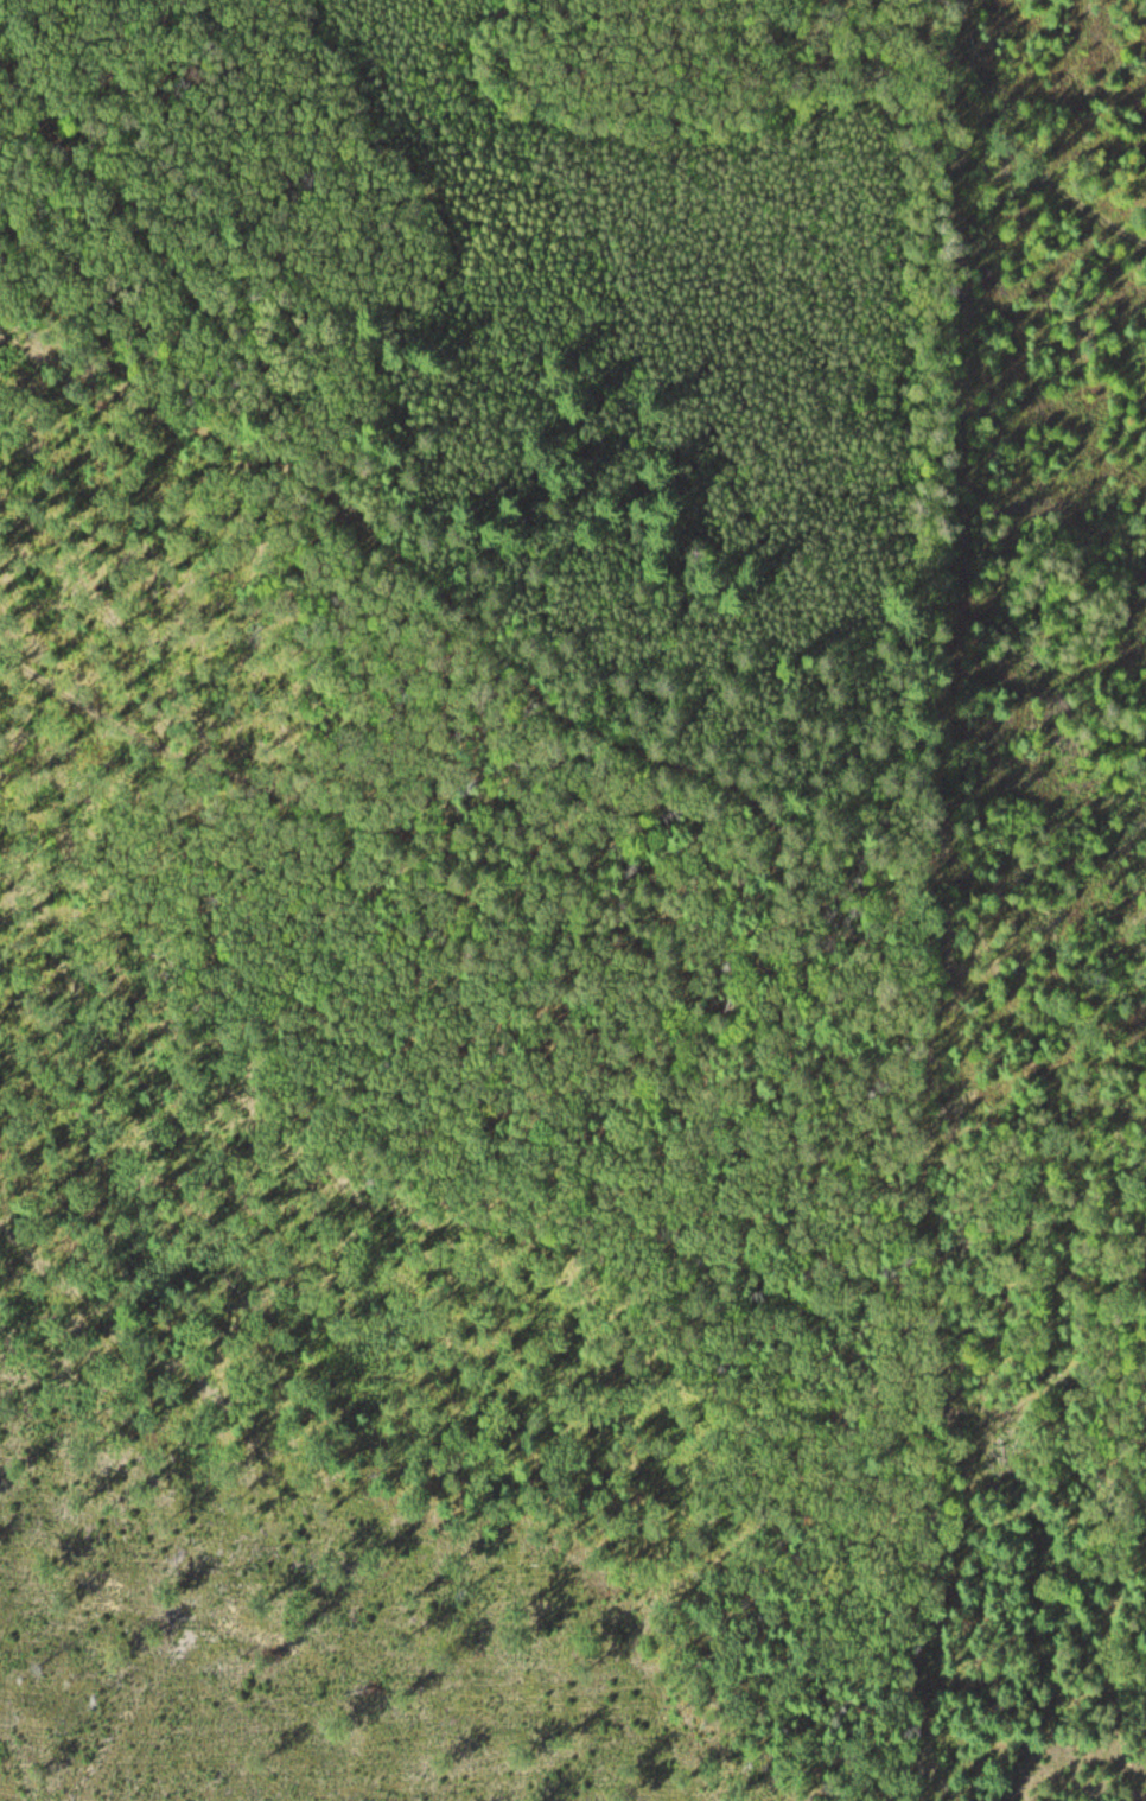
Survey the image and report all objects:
road: (208, 297)
road: (193, 413)
road: (616, 870)

